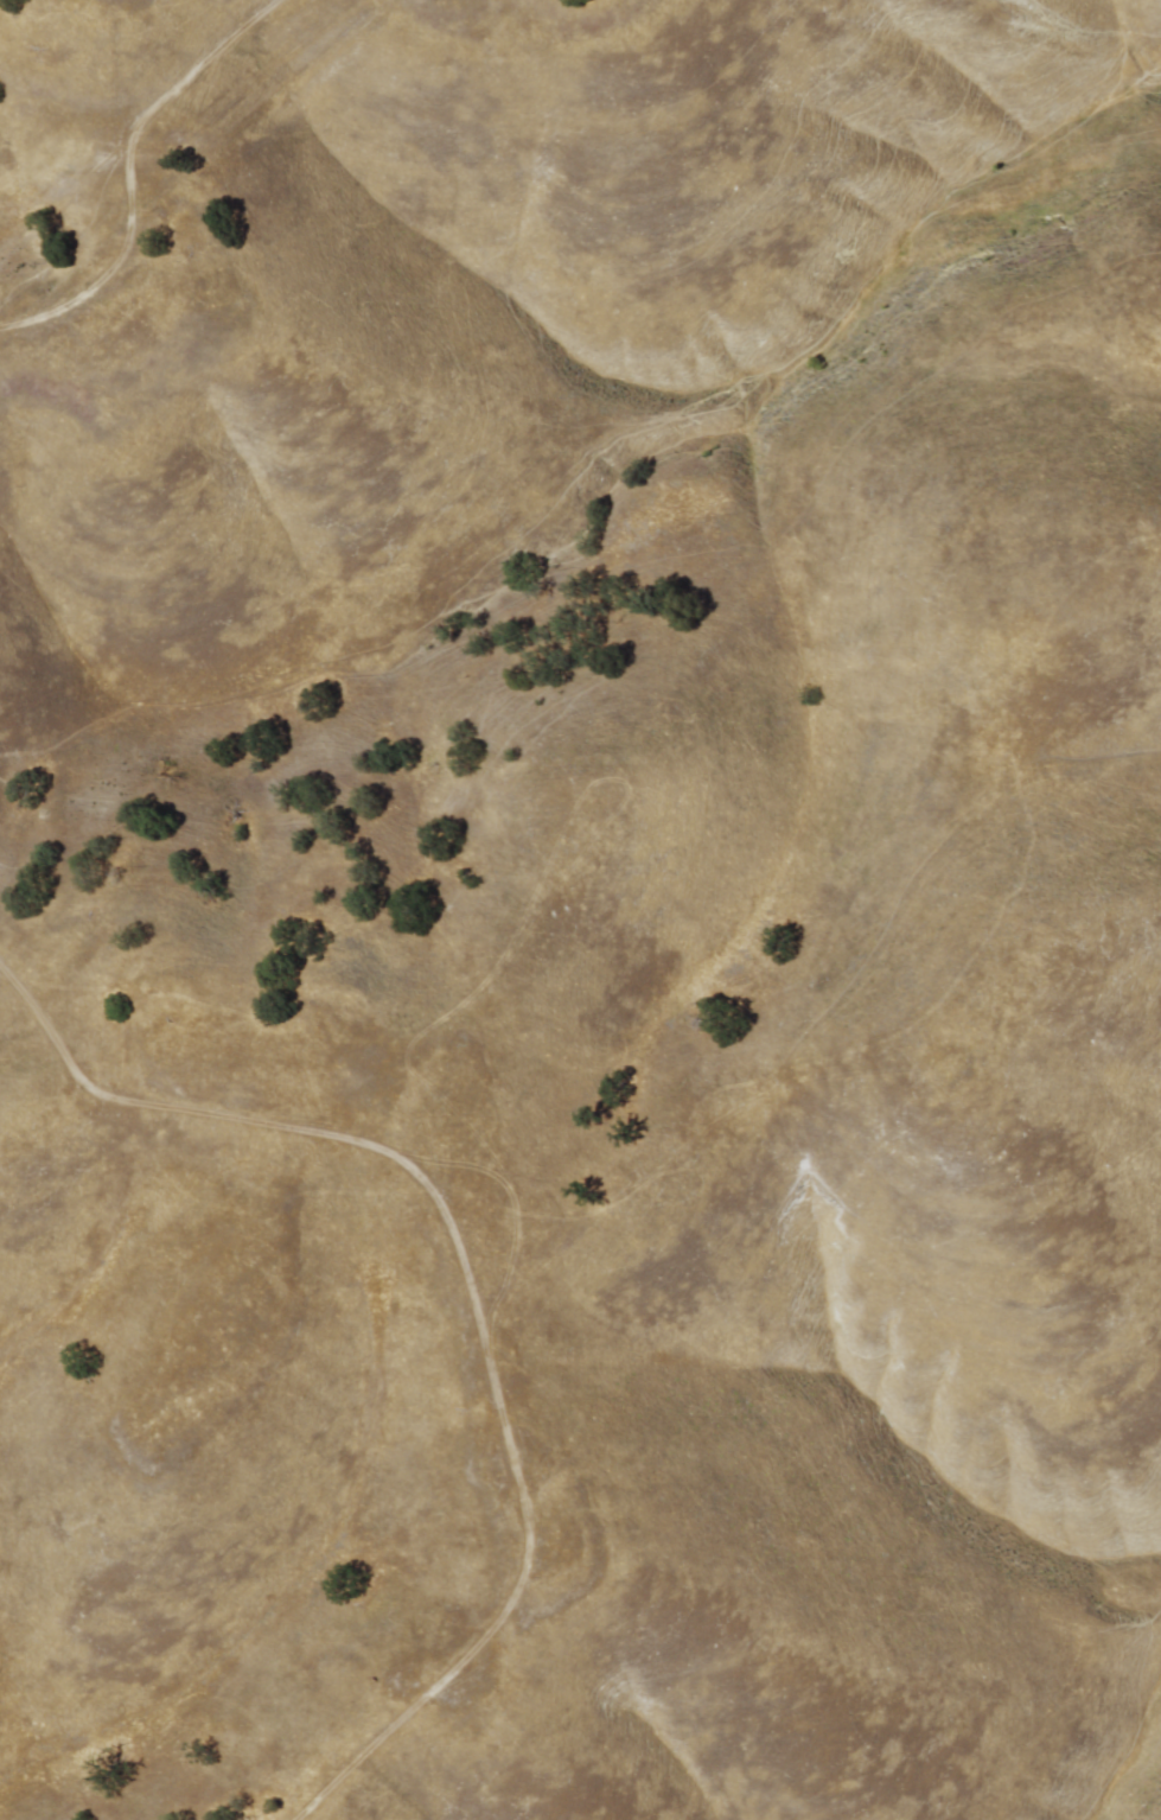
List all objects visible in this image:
road: (134, 172)
road: (470, 1290)

